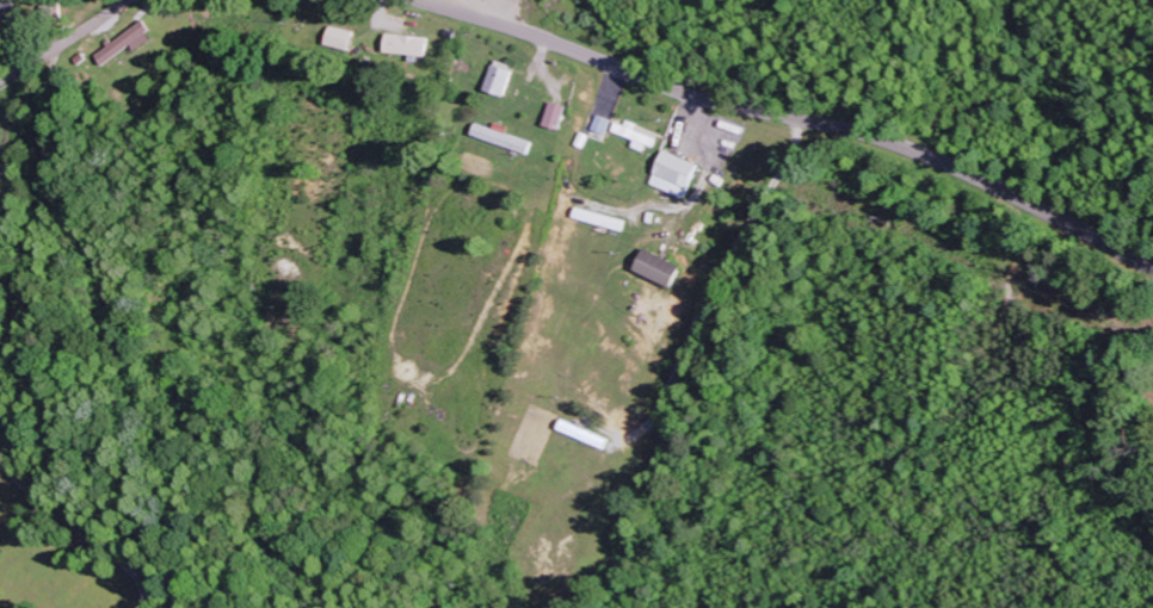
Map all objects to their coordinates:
building: (10, 12)
building: (345, 38)
road: (67, 39)
building: (129, 44)
building: (412, 46)
building: (505, 79)
building: (559, 116)
road: (788, 118)
building: (604, 125)
building: (639, 135)
building: (679, 175)
building: (662, 269)

